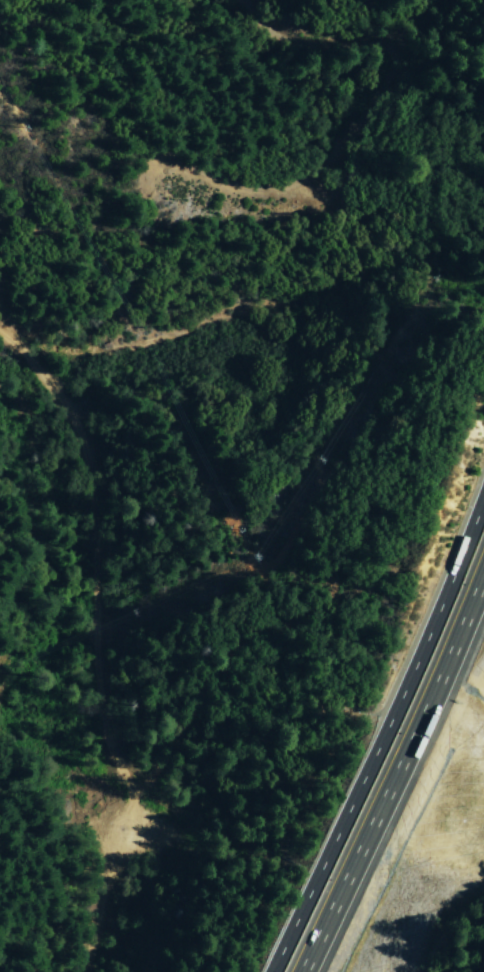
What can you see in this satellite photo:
road: (96, 639)
road: (385, 745)
road: (395, 771)

